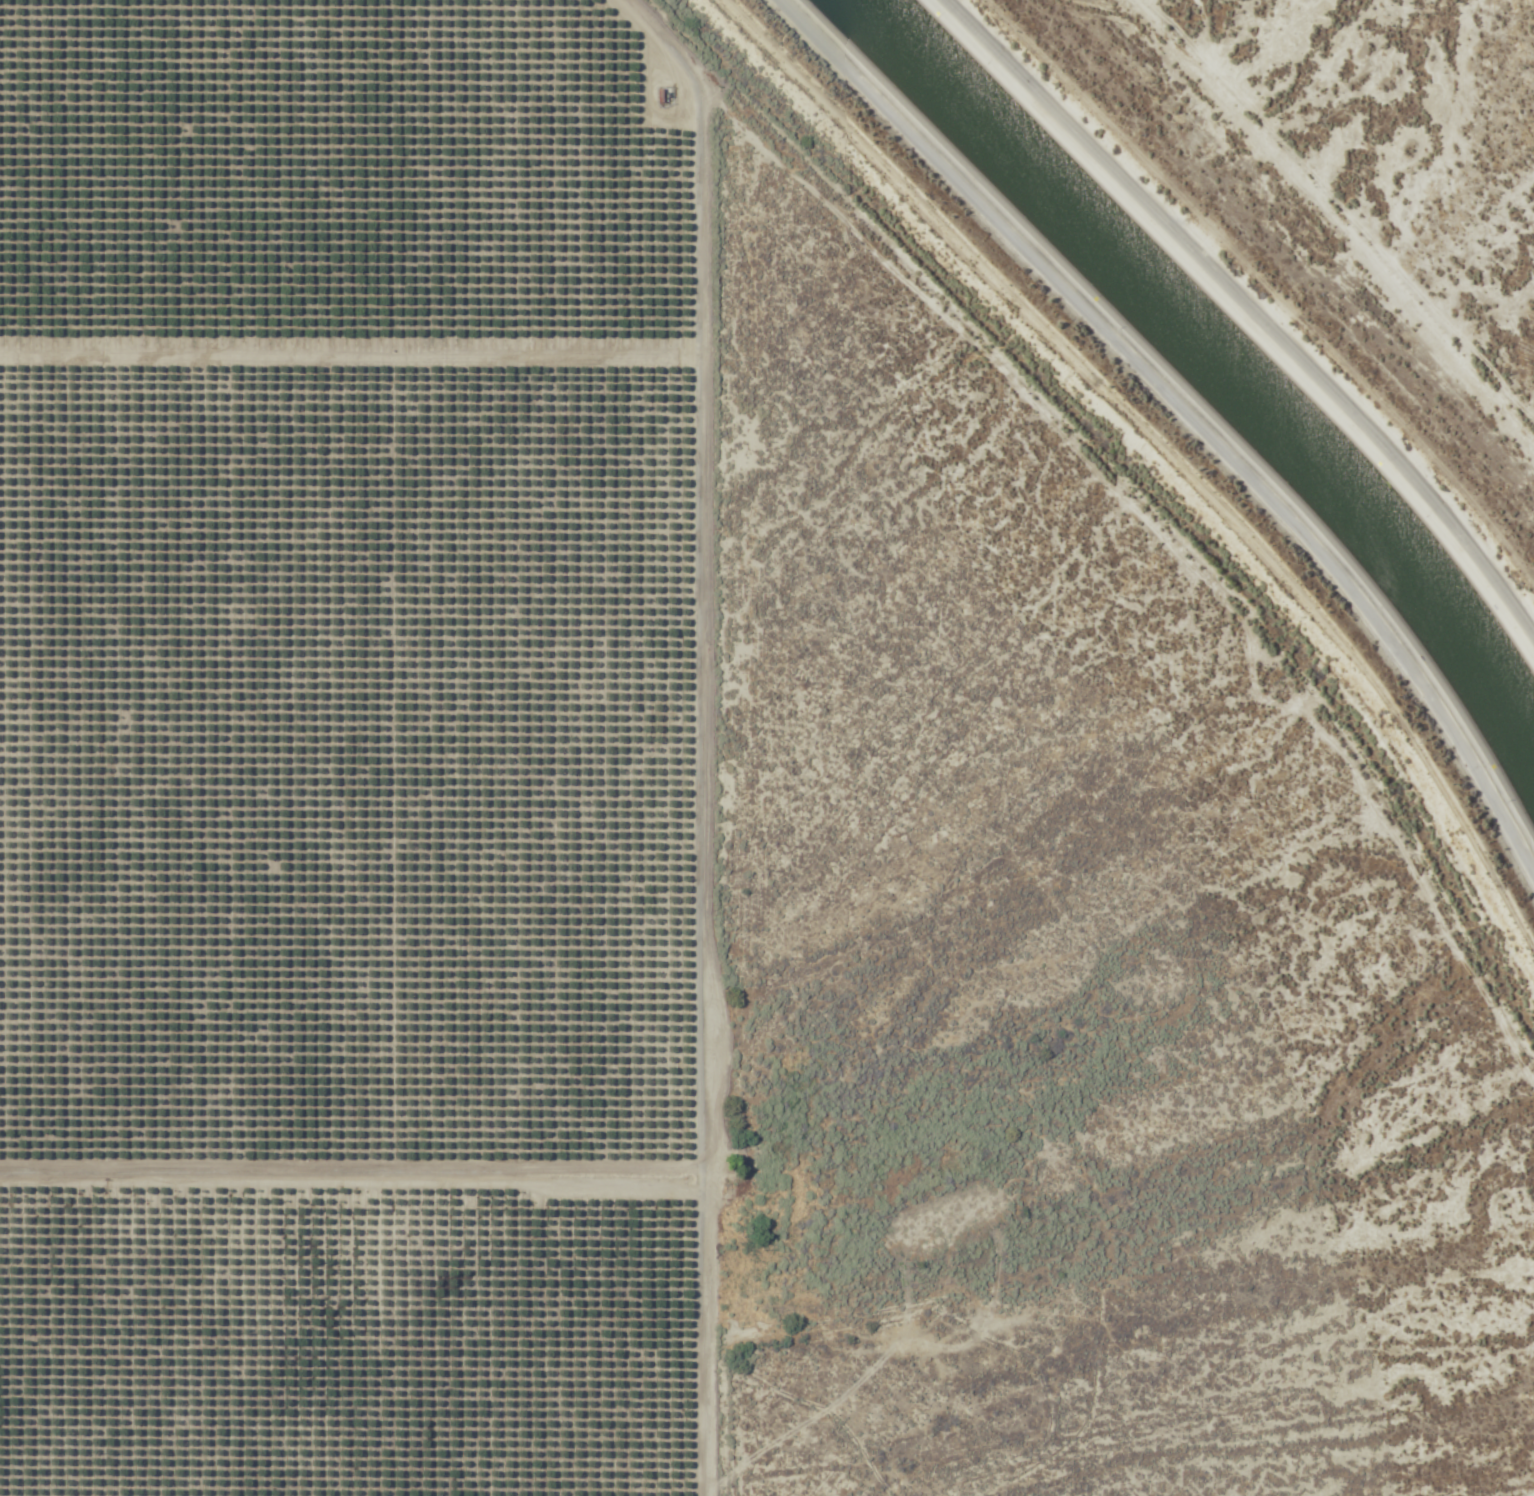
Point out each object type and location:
crop: (1396, 142)
road: (1247, 313)
road: (1126, 463)
crop: (355, 745)

